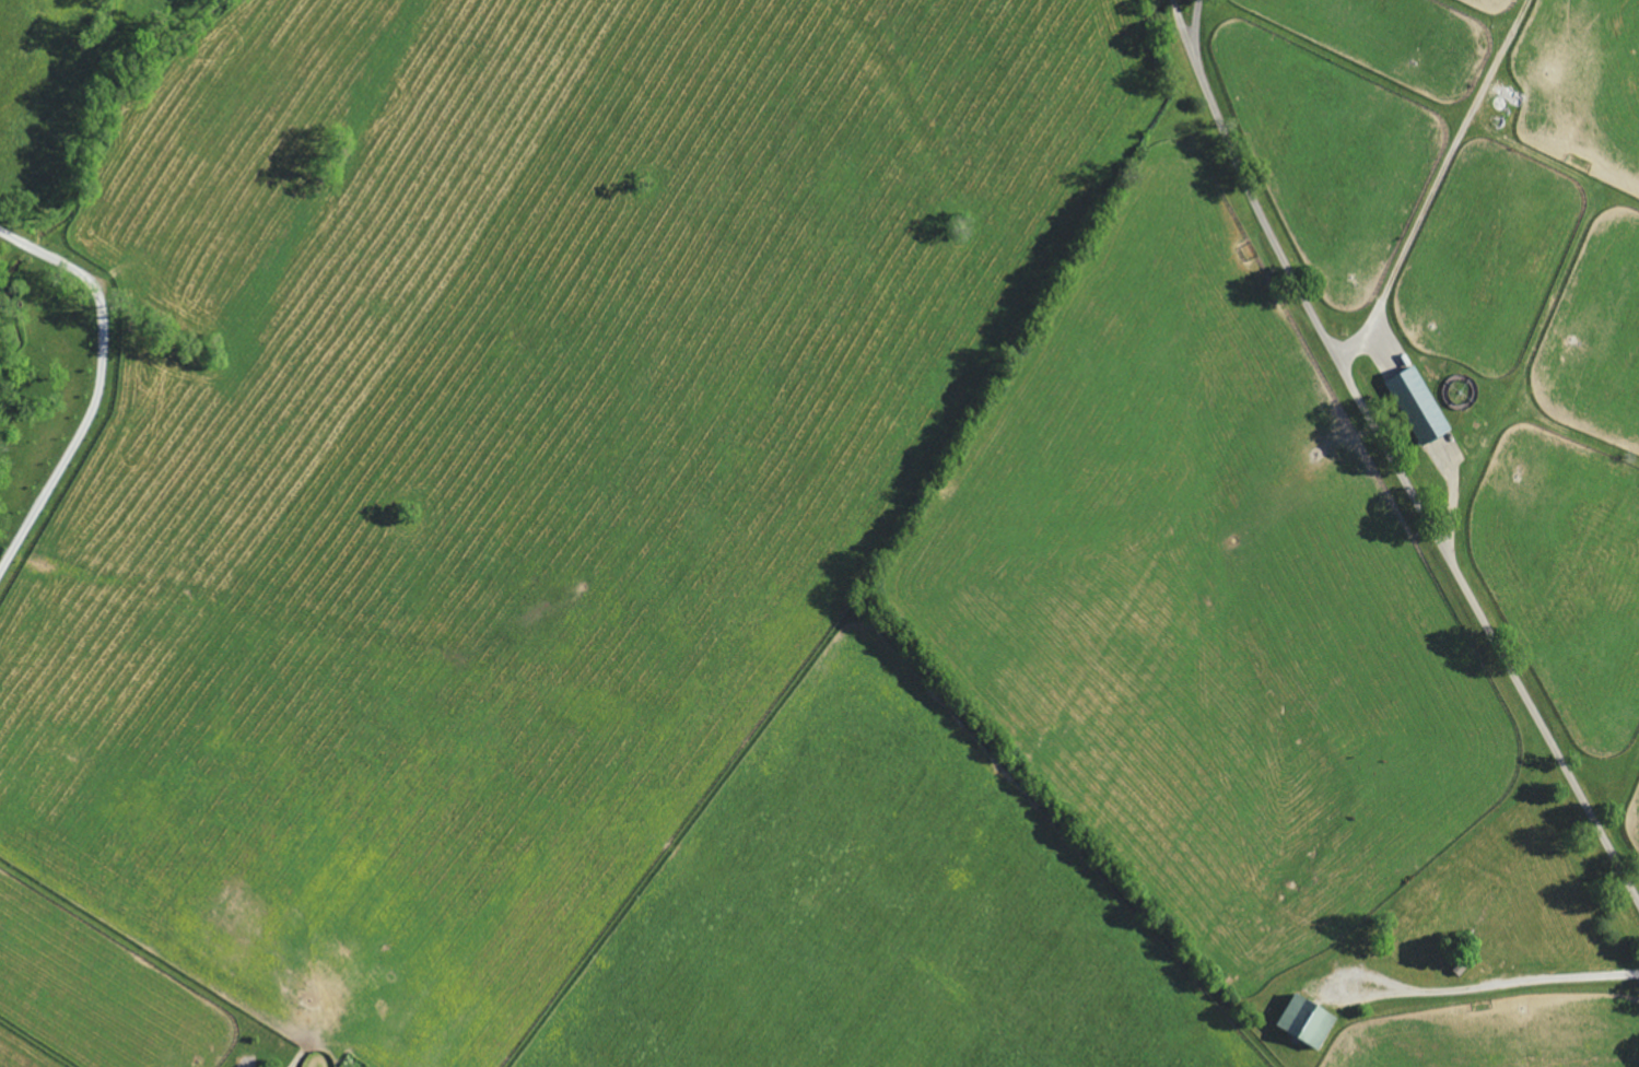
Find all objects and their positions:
road: (1196, 19)
road: (1437, 184)
road: (1246, 185)
road: (102, 386)
building: (1416, 404)
crop: (1332, 526)
road: (1488, 632)
road: (1497, 985)
building: (1312, 1022)

